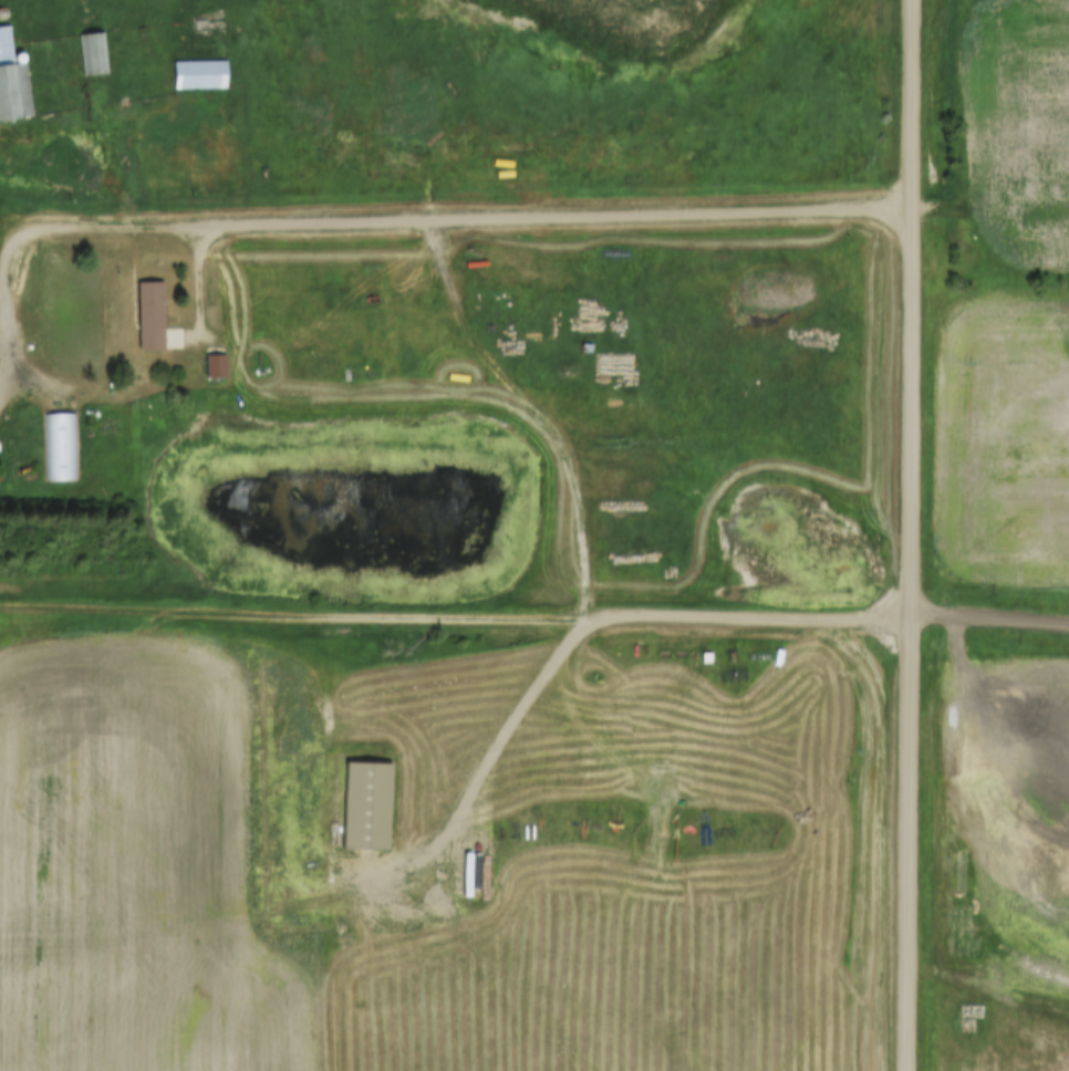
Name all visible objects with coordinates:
building: (91, 52)
building: (196, 74)
building: (12, 81)
road: (80, 125)
road: (457, 226)
road: (4, 254)
building: (795, 263)
road: (196, 281)
building: (152, 319)
road: (8, 339)
building: (216, 365)
road: (565, 402)
building: (61, 447)
road: (911, 534)
road: (455, 621)
road: (989, 622)
road: (505, 734)
road: (986, 994)

